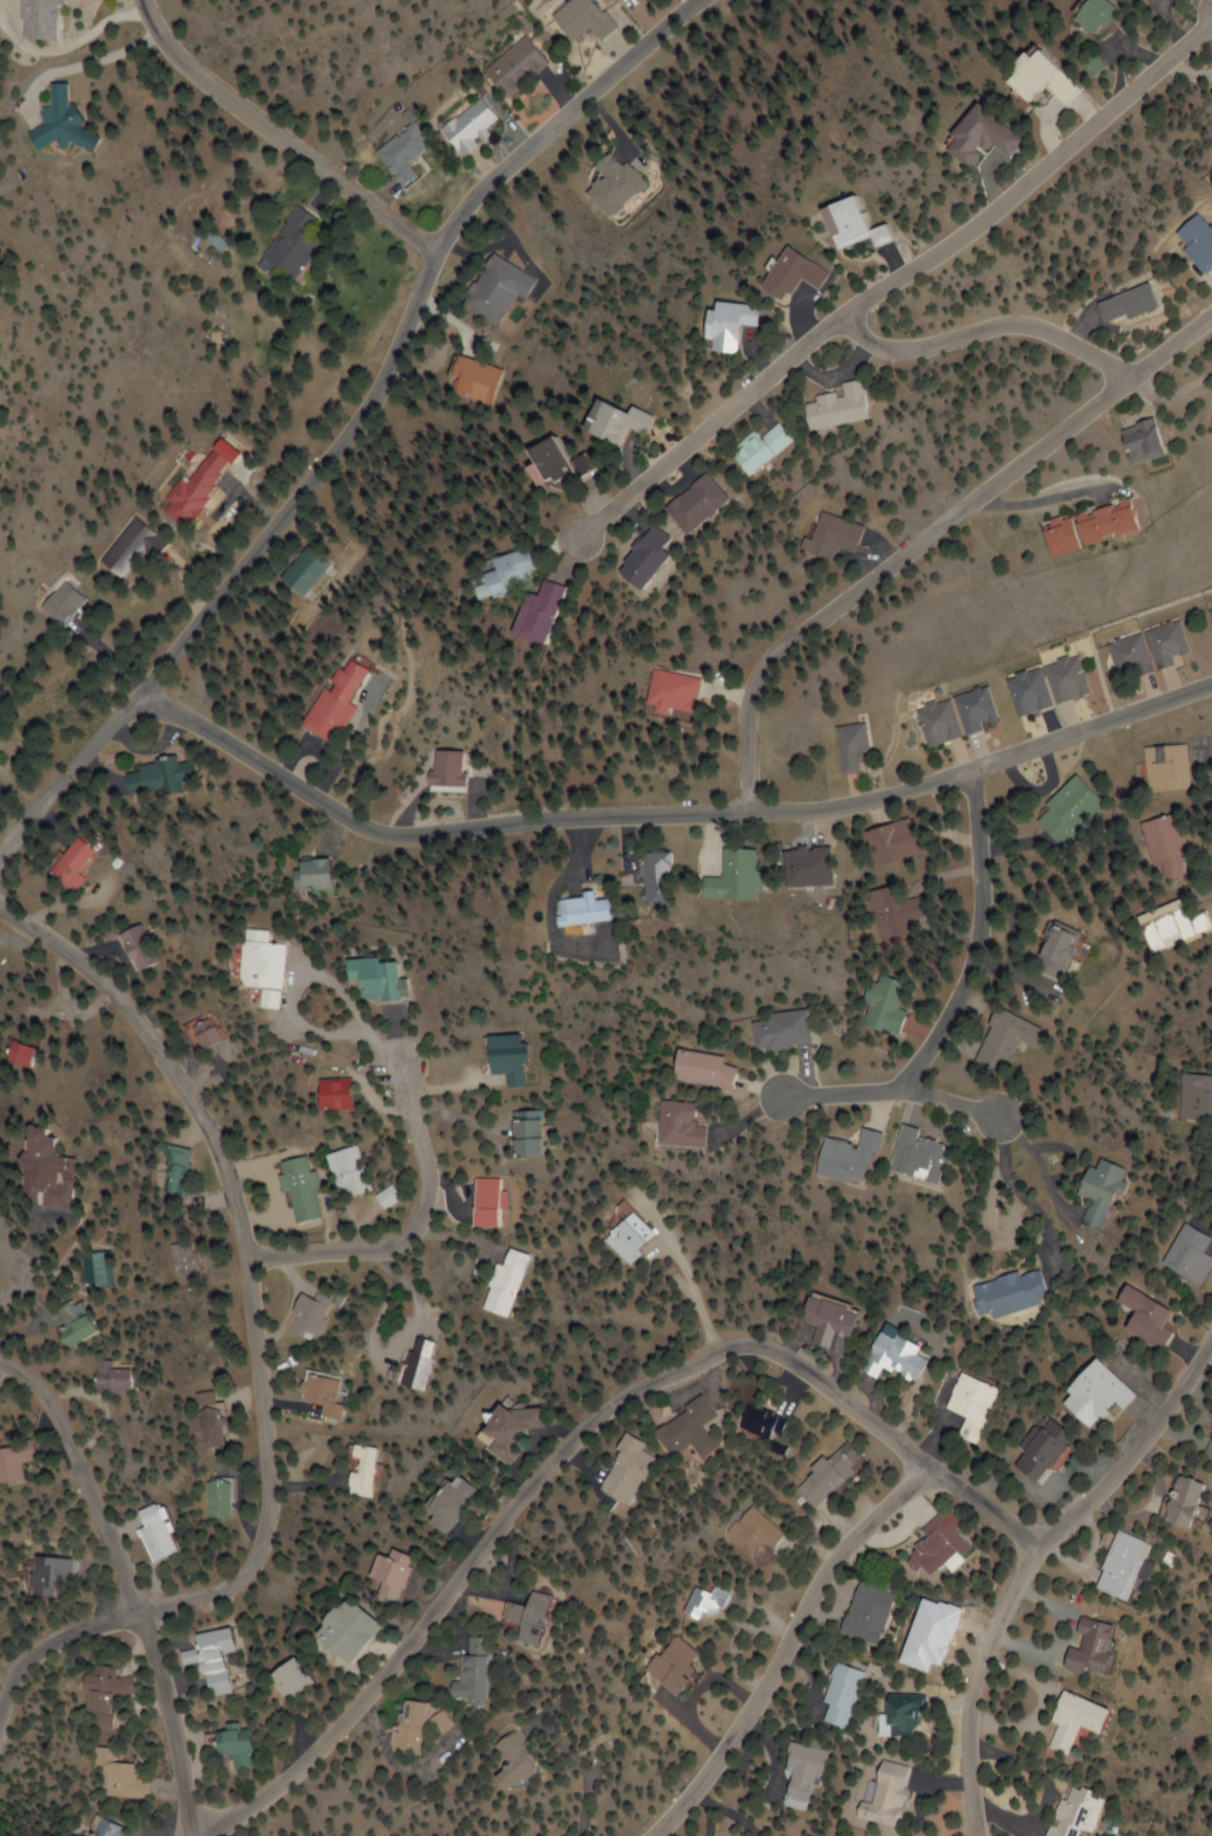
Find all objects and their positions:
building: (584, 19)
building: (1093, 65)
building: (515, 68)
building: (1035, 77)
building: (59, 122)
building: (468, 127)
road: (281, 133)
building: (974, 136)
building: (402, 154)
building: (614, 184)
building: (850, 223)
building: (1195, 242)
building: (289, 247)
building: (791, 275)
road: (894, 278)
building: (499, 288)
building: (1122, 304)
building: (726, 324)
road: (983, 328)
road: (408, 332)
building: (472, 381)
building: (831, 406)
building: (613, 423)
building: (1138, 441)
building: (751, 448)
building: (539, 461)
building: (191, 494)
building: (685, 504)
building: (1088, 527)
road: (929, 533)
building: (827, 536)
building: (131, 547)
building: (632, 559)
building: (306, 571)
building: (493, 574)
building: (65, 602)
building: (1211, 610)
building: (525, 614)
building: (1170, 643)
building: (1131, 656)
building: (1070, 679)
building: (671, 692)
building: (1030, 692)
building: (335, 703)
building: (978, 708)
building: (941, 722)
building: (856, 746)
building: (1171, 768)
building: (443, 770)
road: (69, 775)
building: (162, 776)
road: (671, 813)
building: (1067, 817)
building: (896, 840)
building: (1171, 844)
building: (75, 864)
building: (320, 874)
building: (739, 875)
building: (664, 878)
building: (589, 911)
building: (897, 913)
building: (1181, 922)
building: (137, 948)
building: (1060, 950)
building: (0, 964)
building: (264, 967)
building: (379, 979)
road: (967, 996)
building: (890, 1003)
building: (786, 1030)
building: (1017, 1033)
building: (200, 1034)
building: (23, 1054)
building: (514, 1056)
building: (705, 1068)
building: (332, 1095)
building: (1195, 1096)
road: (961, 1102)
building: (684, 1125)
building: (531, 1133)
building: (925, 1155)
building: (856, 1157)
building: (182, 1169)
building: (43, 1172)
building: (349, 1173)
building: (305, 1190)
building: (1105, 1190)
building: (490, 1201)
road: (417, 1227)
building: (630, 1237)
building: (1193, 1255)
building: (96, 1271)
building: (513, 1281)
road: (11, 1283)
building: (1015, 1292)
building: (318, 1313)
building: (1148, 1318)
building: (826, 1320)
building: (74, 1325)
road: (264, 1344)
building: (894, 1359)
building: (426, 1362)
building: (111, 1379)
building: (1096, 1392)
building: (330, 1394)
building: (974, 1406)
building: (761, 1424)
building: (213, 1427)
building: (513, 1430)
building: (685, 1430)
building: (1044, 1450)
building: (1208, 1450)
building: (16, 1460)
building: (367, 1471)
building: (622, 1471)
building: (824, 1477)
road: (537, 1488)
building: (224, 1500)
building: (1178, 1501)
building: (451, 1503)
road: (990, 1507)
building: (157, 1532)
building: (753, 1532)
building: (942, 1548)
building: (1120, 1566)
road: (1034, 1567)
building: (391, 1577)
building: (53, 1580)
road: (130, 1582)
building: (703, 1603)
building: (868, 1614)
building: (525, 1618)
building: (347, 1631)
building: (1087, 1647)
road: (790, 1649)
building: (215, 1660)
building: (667, 1665)
building: (467, 1679)
building: (293, 1680)
building: (103, 1690)
building: (839, 1696)
building: (900, 1714)
building: (1070, 1721)
building: (408, 1728)
building: (239, 1747)
building: (504, 1759)
road: (581, 1772)
building: (798, 1773)
building: (119, 1776)
building: (882, 1795)
building: (1072, 1811)
building: (105, 1829)

